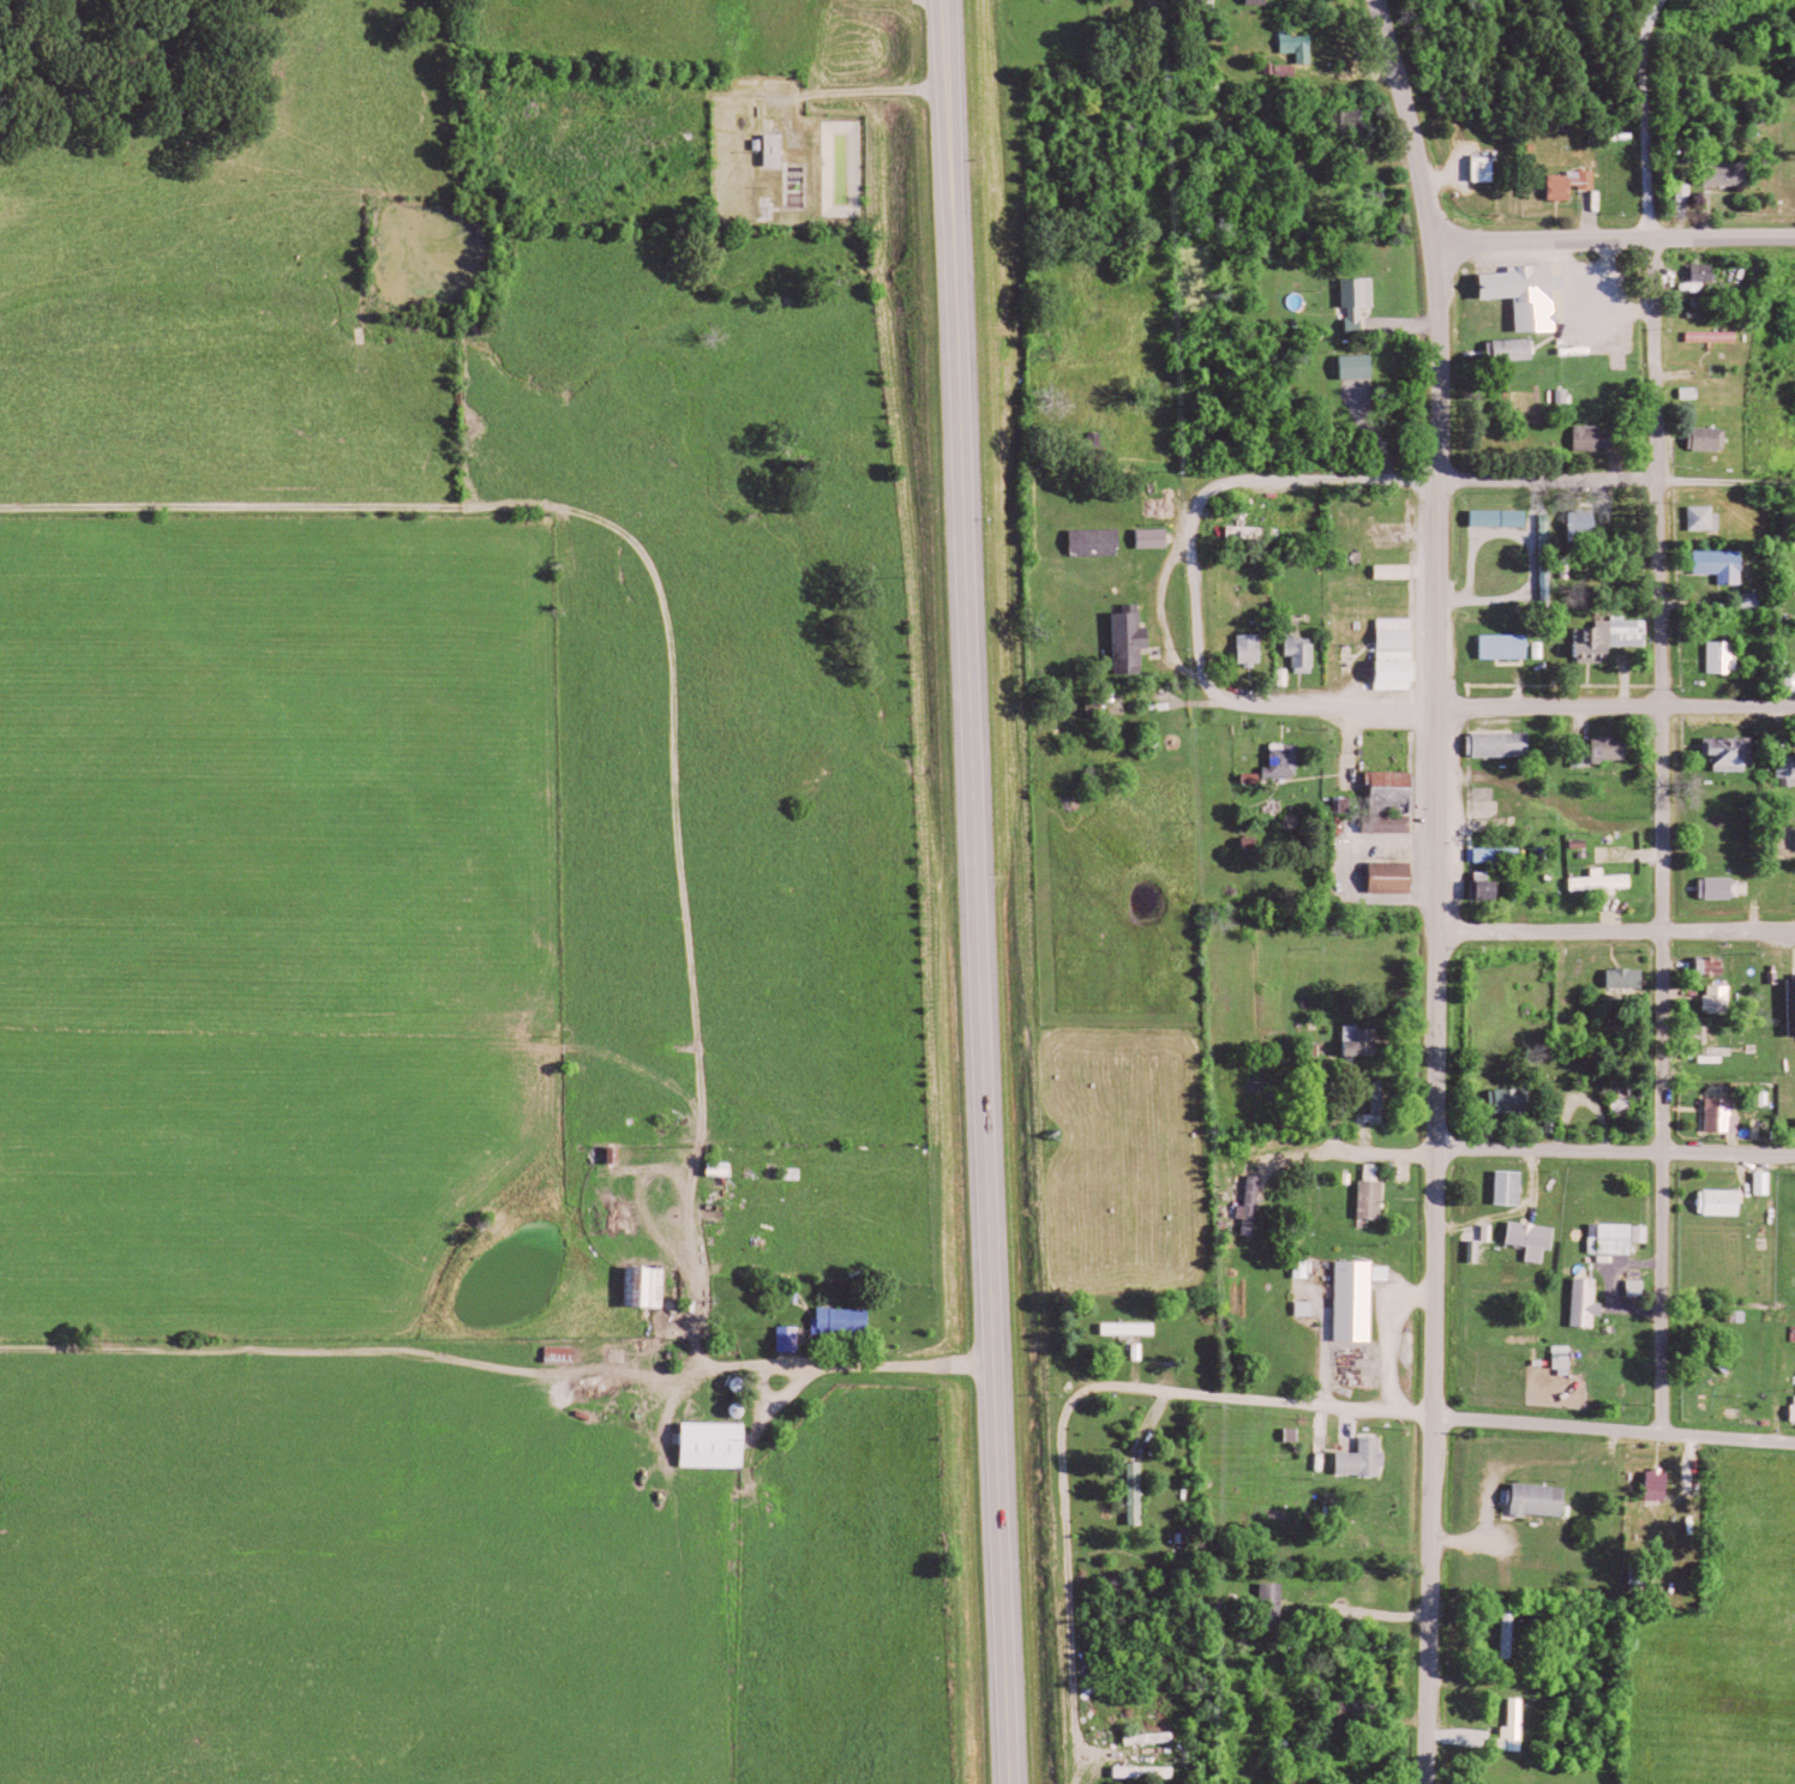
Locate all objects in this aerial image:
building: (1262, 0)
building: (1302, 46)
road: (1644, 115)
road: (1412, 116)
road: (1356, 121)
building: (778, 149)
building: (1489, 168)
building: (1730, 173)
building: (1574, 184)
building: (1689, 192)
road: (1614, 236)
building: (1709, 274)
building: (1533, 294)
building: (1362, 300)
building: (1718, 336)
building: (1518, 349)
building: (1362, 366)
road: (957, 374)
building: (1596, 437)
building: (1713, 438)
road: (1475, 480)
building: (1707, 517)
building: (1503, 518)
building: (1586, 523)
building: (1257, 533)
building: (1157, 537)
building: (1099, 541)
building: (1725, 565)
building: (1753, 600)
road: (1197, 608)
road: (1154, 613)
building: (1613, 638)
building: (1134, 641)
building: (1508, 647)
building: (1255, 649)
building: (1304, 654)
building: (1400, 654)
building: (1727, 657)
building: (1287, 677)
building: (1793, 681)
road: (1489, 705)
building: (1502, 744)
building: (1614, 749)
building: (1735, 753)
building: (1581, 758)
building: (1289, 762)
building: (1789, 770)
road: (1512, 786)
building: (1393, 789)
building: (1347, 805)
road: (1665, 834)
building: (1500, 854)
building: (1395, 877)
building: (1607, 882)
building: (1725, 888)
road: (688, 899)
road: (1617, 931)
building: (1716, 967)
building: (1631, 978)
building: (1794, 991)
building: (1722, 999)
road: (1437, 1010)
building: (1365, 1039)
building: (1514, 1099)
building: (1382, 1103)
building: (1725, 1113)
road: (1370, 1151)
road: (1615, 1153)
building: (1767, 1182)
building: (1514, 1187)
building: (1376, 1191)
building: (1724, 1201)
building: (1256, 1203)
building: (1620, 1237)
building: (1536, 1238)
road: (993, 1266)
building: (649, 1285)
building: (1361, 1297)
building: (1590, 1305)
building: (1310, 1308)
building: (848, 1320)
building: (1134, 1327)
building: (793, 1338)
building: (1142, 1350)
building: (1567, 1357)
road: (1251, 1398)
building: (719, 1443)
building: (1368, 1458)
road: (1501, 1470)
building: (1663, 1484)
building: (1140, 1492)
building: (1544, 1498)
building: (1277, 1604)
building: (1520, 1724)
building: (1290, 1746)
building: (1149, 1771)

